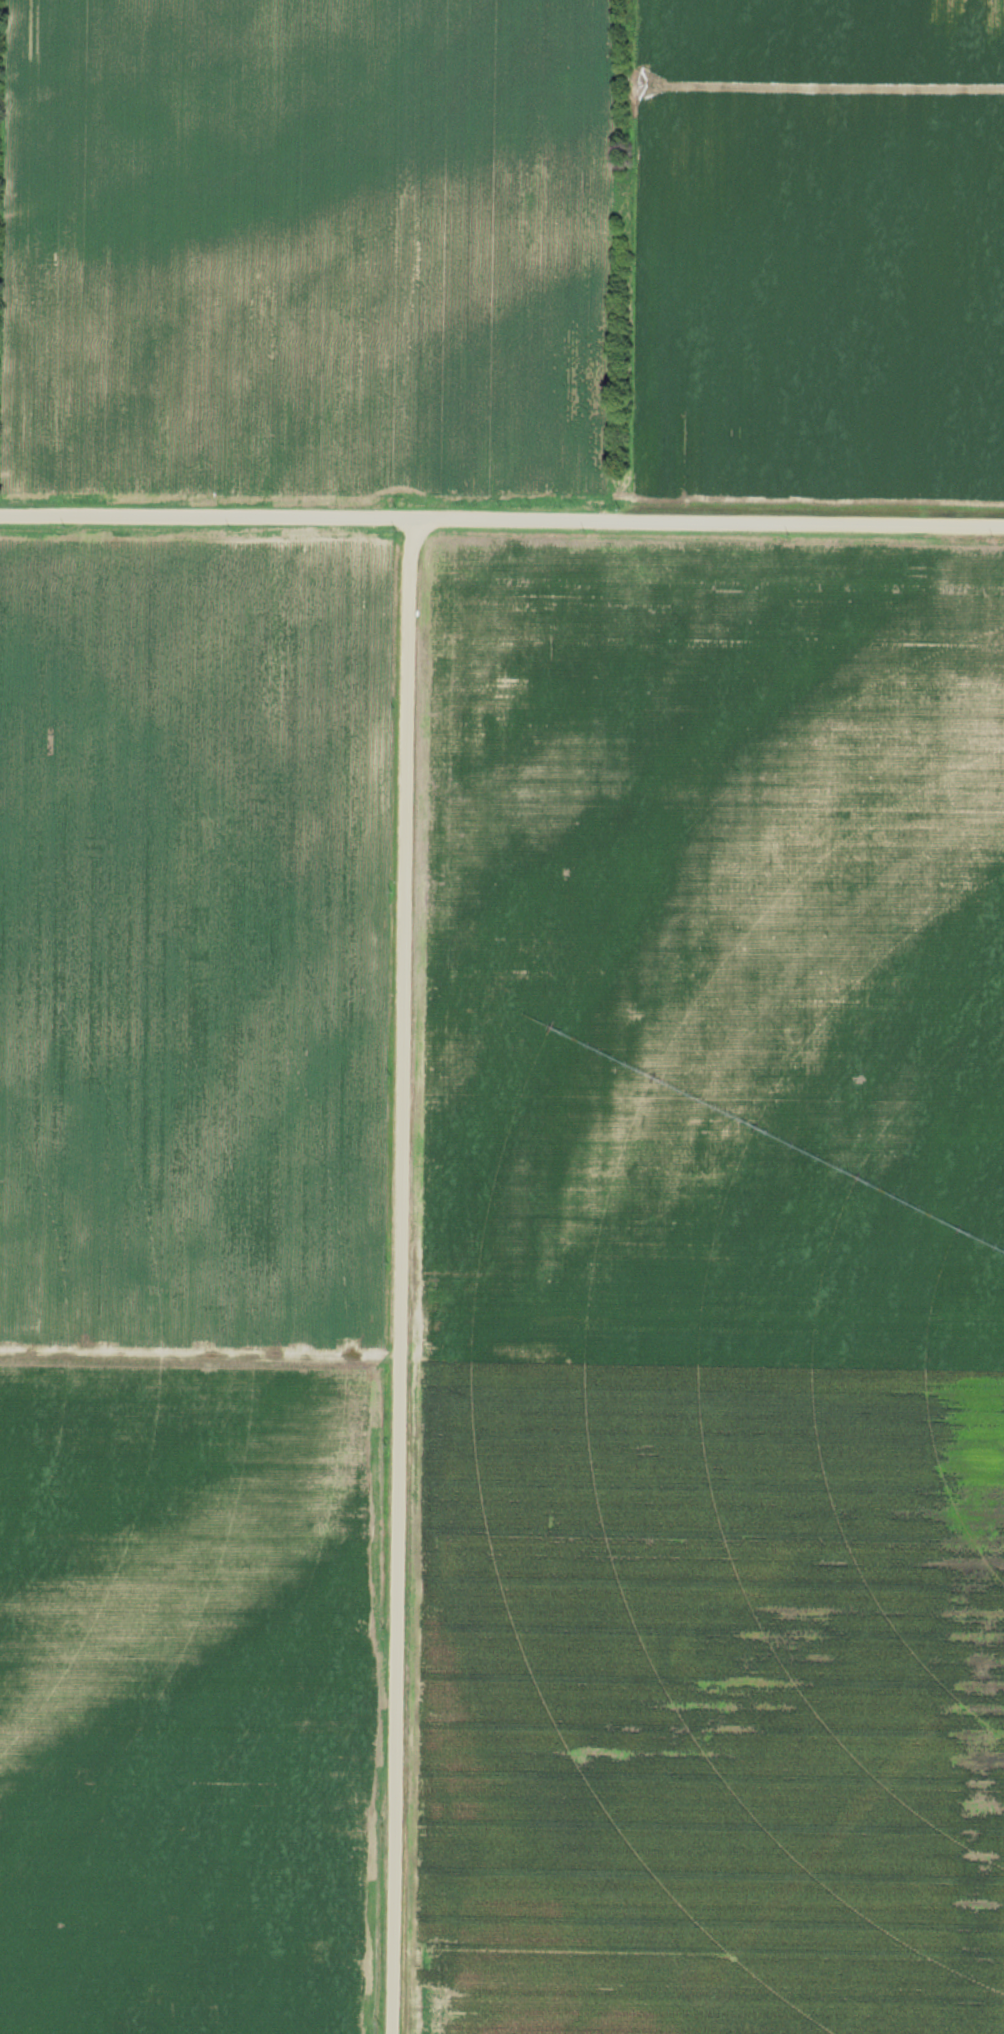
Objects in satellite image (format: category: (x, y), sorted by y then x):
road: (502, 518)
road: (400, 1275)
road: (502, 1352)

